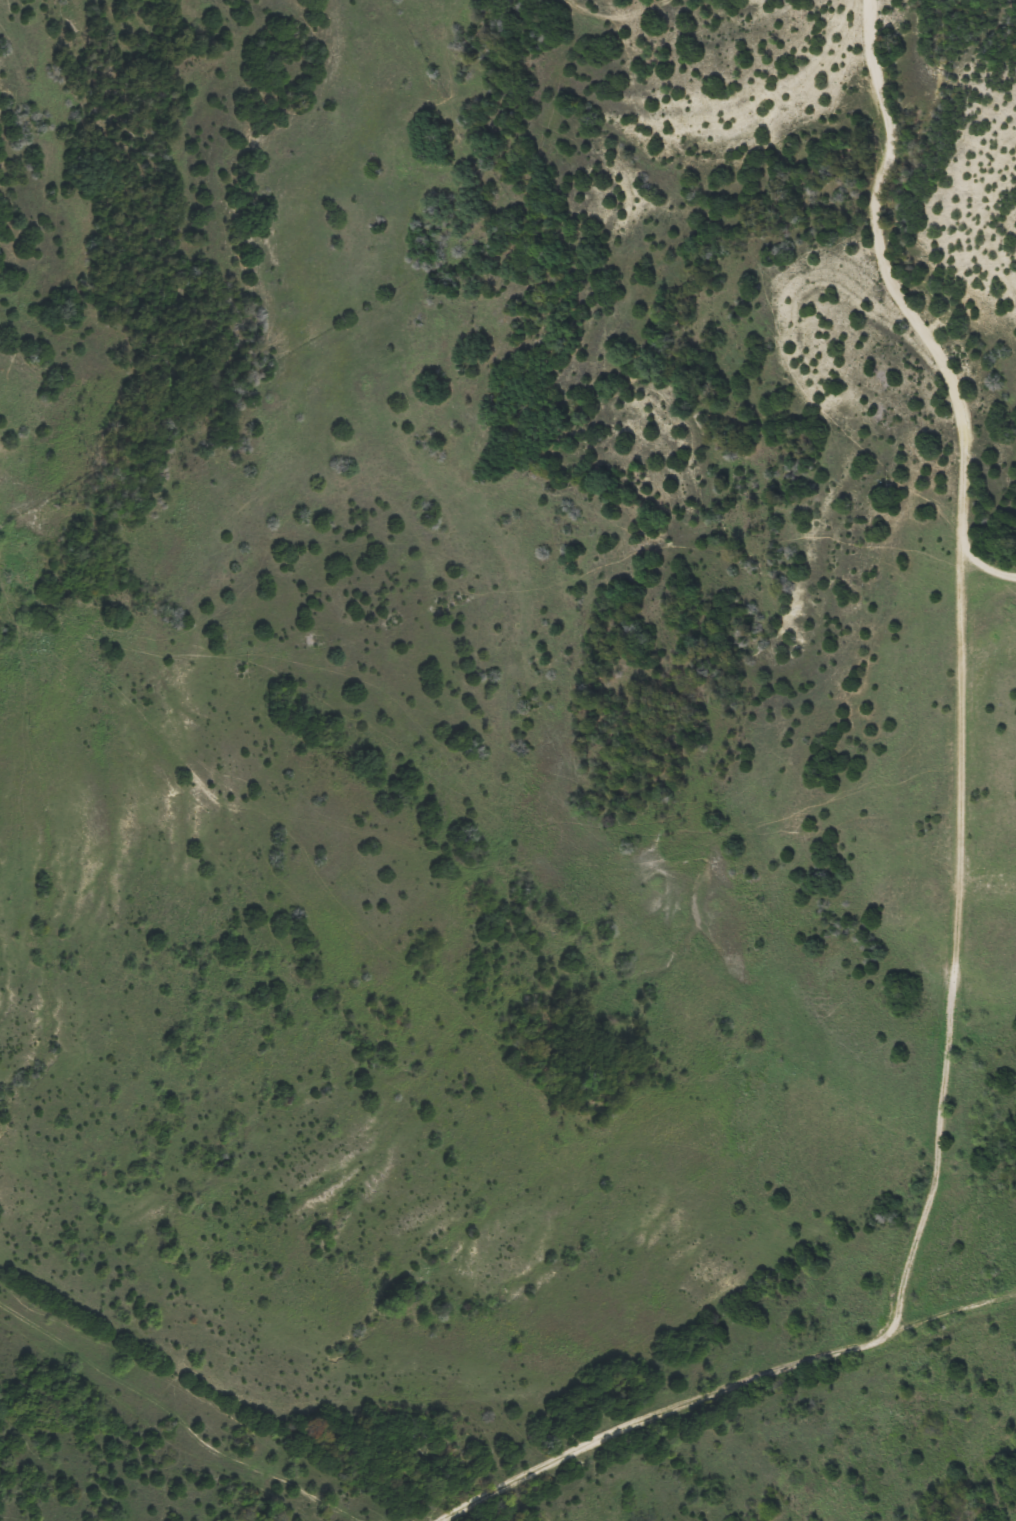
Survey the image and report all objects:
road: (1005, 595)
road: (991, 647)
road: (706, 1383)

